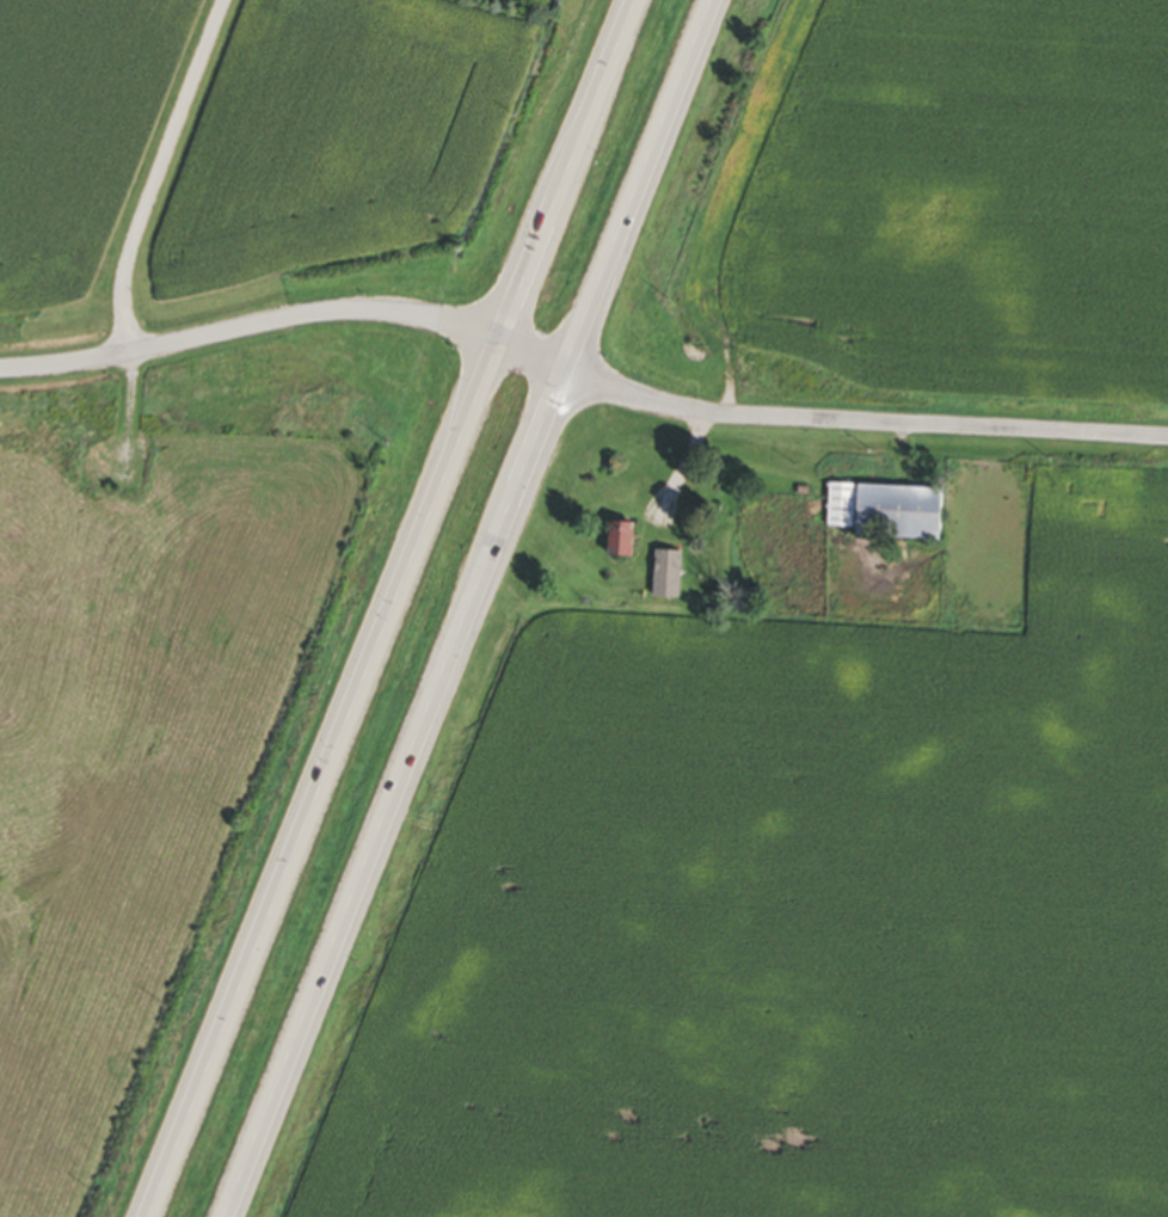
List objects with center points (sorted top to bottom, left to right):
road: (152, 173)
road: (284, 316)
road: (861, 420)
road: (680, 468)
building: (880, 514)
building: (616, 543)
building: (663, 577)
road: (376, 608)
road: (468, 608)

